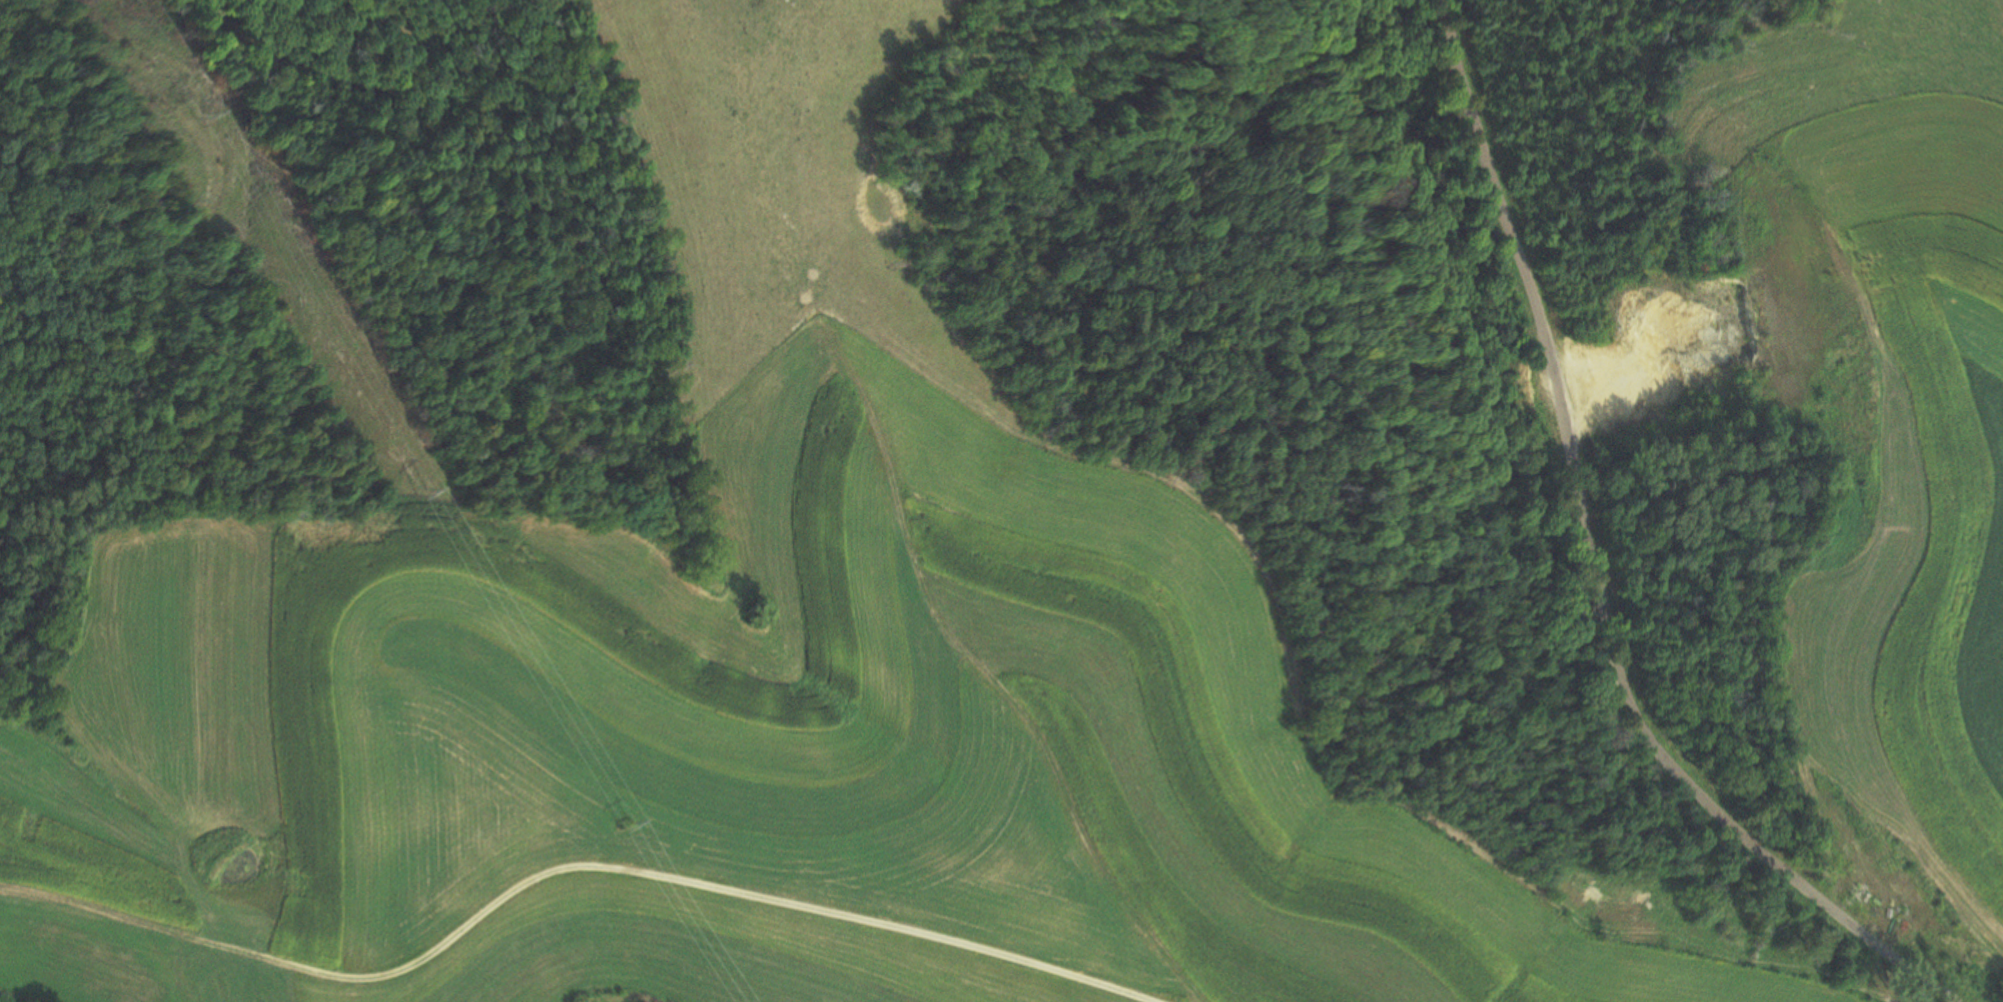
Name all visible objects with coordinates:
power tower: (182, 115)
power tower: (416, 495)
road: (1586, 567)
power tower: (625, 823)
road: (651, 873)

